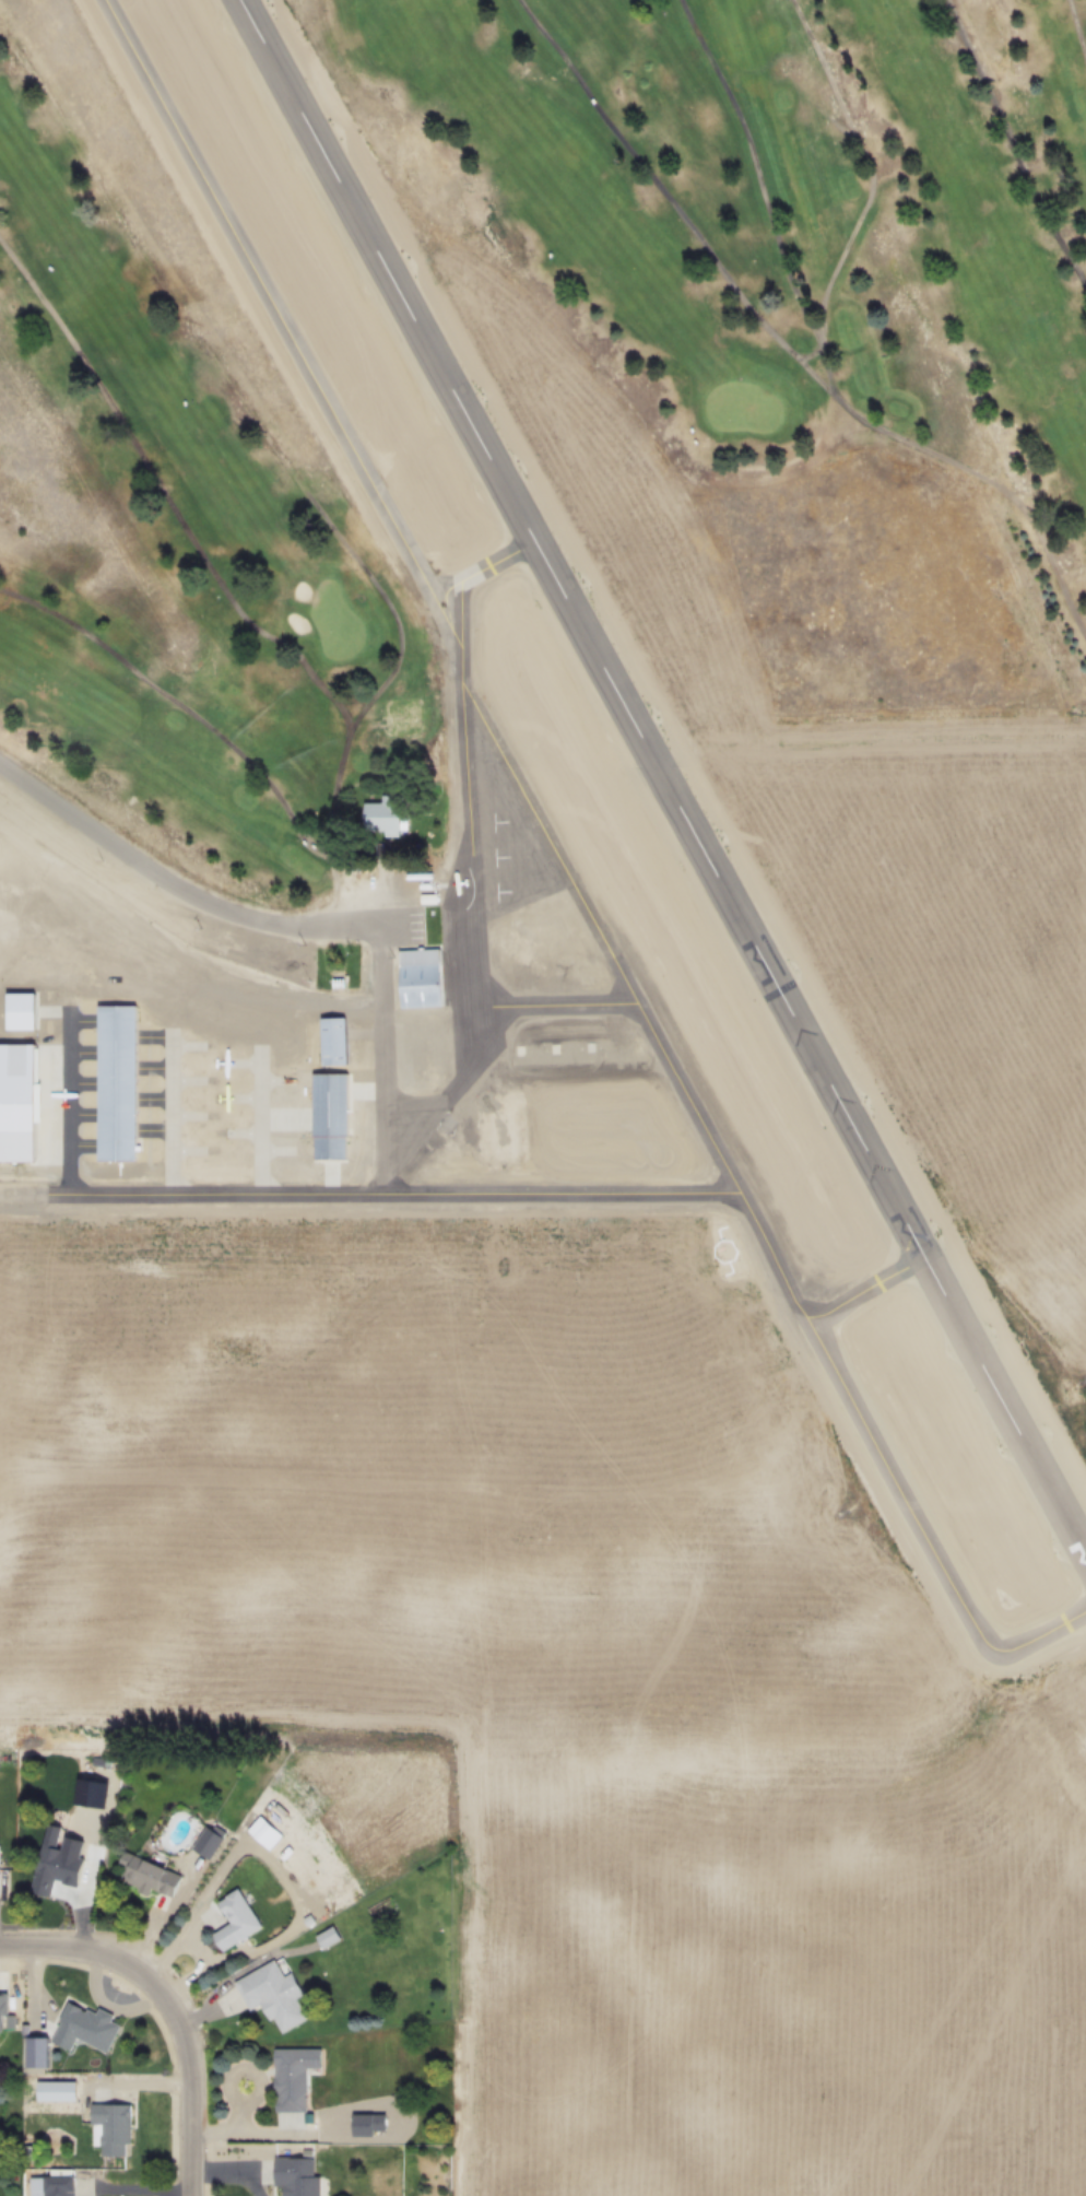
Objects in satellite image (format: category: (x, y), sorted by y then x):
airport taxiway: (493, 574)
airport runway: (588, 630)
airport taxiway: (463, 657)
building: (385, 814)
building: (381, 847)
airport apron: (547, 950)
building: (429, 980)
road: (469, 984)
airport hangar: (31, 1015)
building: (31, 1015)
building: (344, 1044)
airport hangar: (128, 1087)
building: (128, 1087)
airport hangar: (25, 1105)
building: (25, 1105)
building: (341, 1117)
road: (28, 1202)
airport: (594, 1270)
airport taxiway: (876, 1292)
road: (457, 1736)
building: (262, 1831)
building: (206, 1843)
road: (223, 1846)
building: (54, 1869)
building: (146, 1874)
building: (235, 1918)
road: (319, 1922)
building: (327, 1936)
building: (271, 1993)
road: (169, 2008)
building: (1, 2010)
building: (83, 2025)
building: (293, 2077)
building: (366, 2123)
building: (111, 2126)
road: (234, 2173)
building: (295, 2176)
building: (56, 2185)

